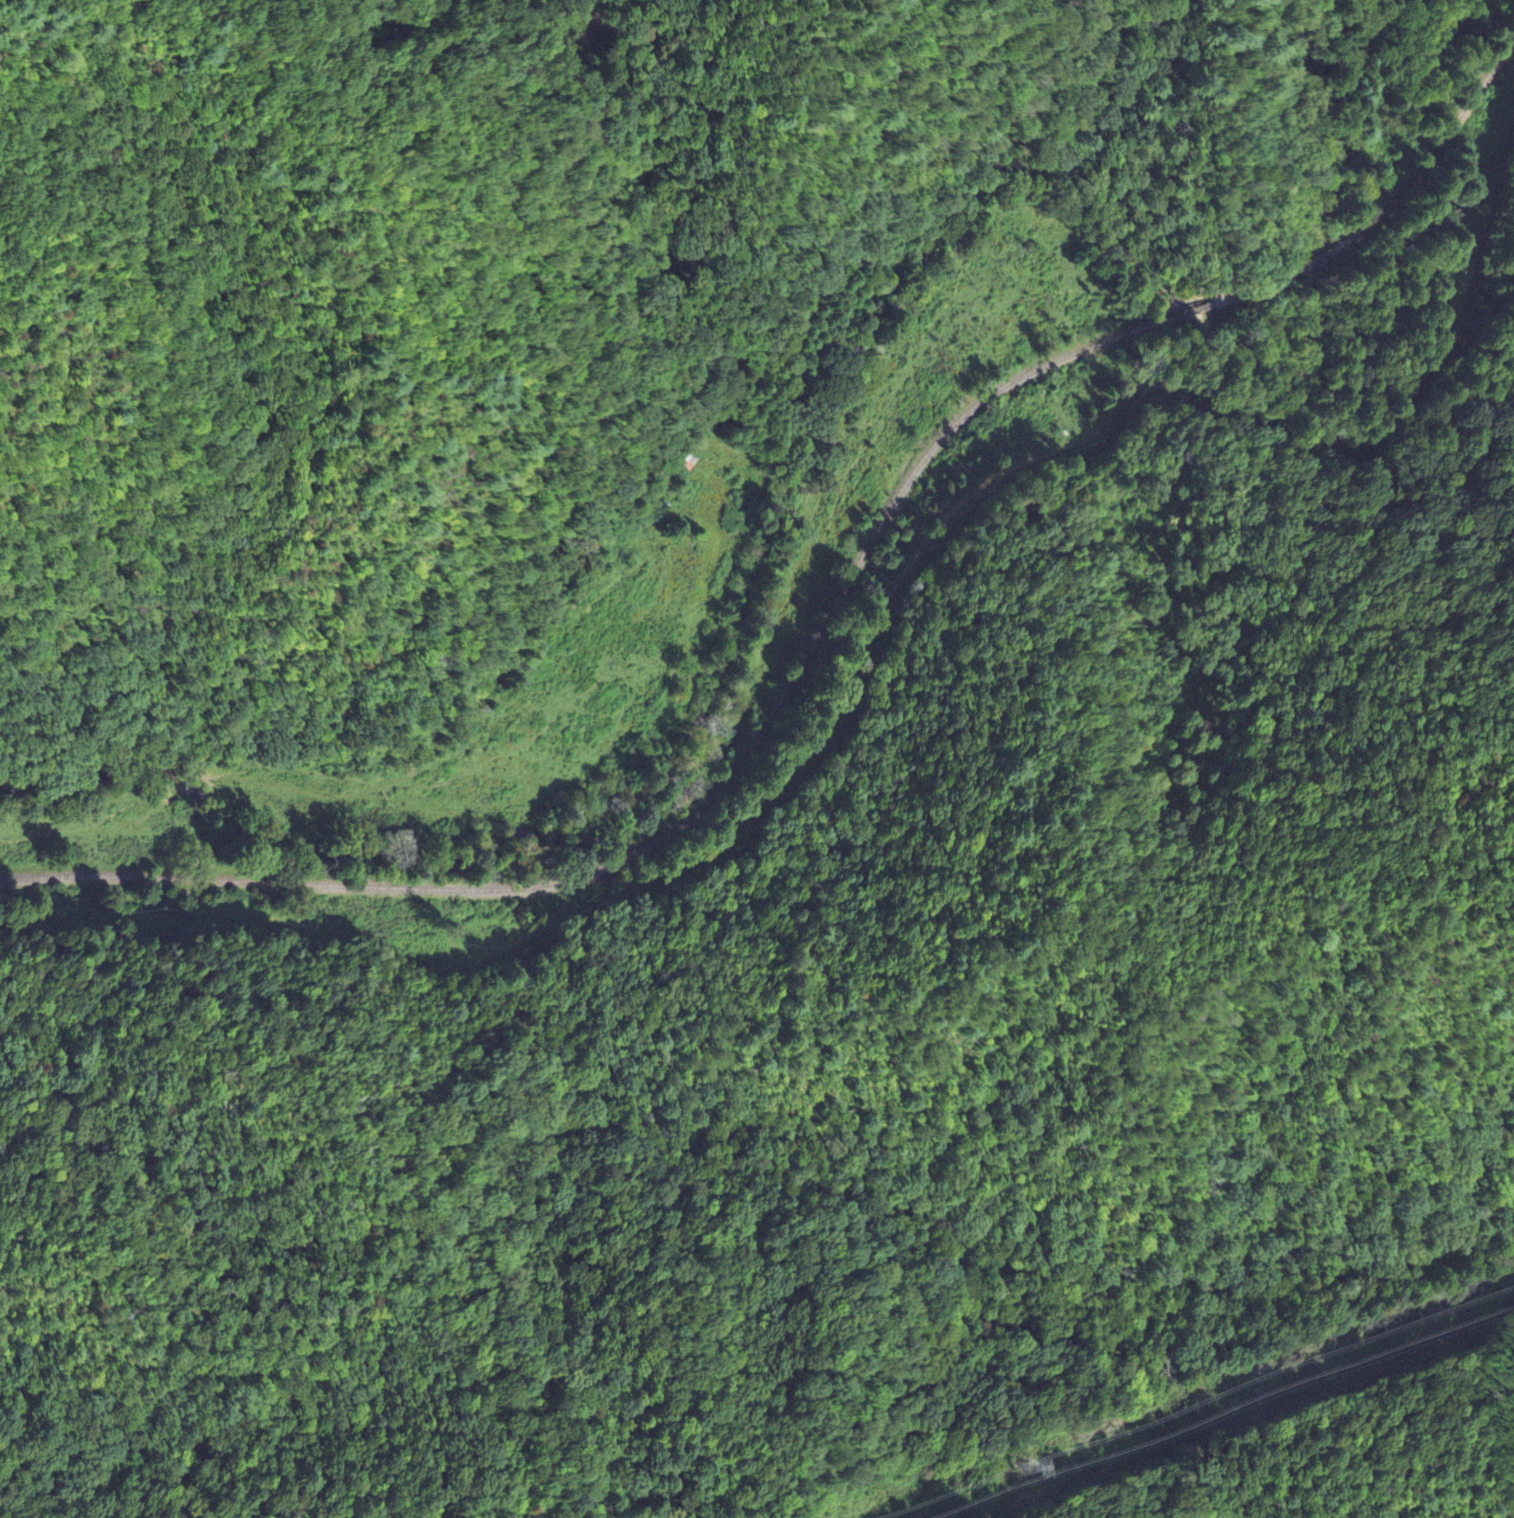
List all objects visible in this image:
railway: (1435, 143)
railway: (1317, 257)
railway: (1251, 287)
railway: (1184, 312)
river: (801, 397)
road: (864, 654)
railway: (686, 817)
power tower: (1020, 1467)

